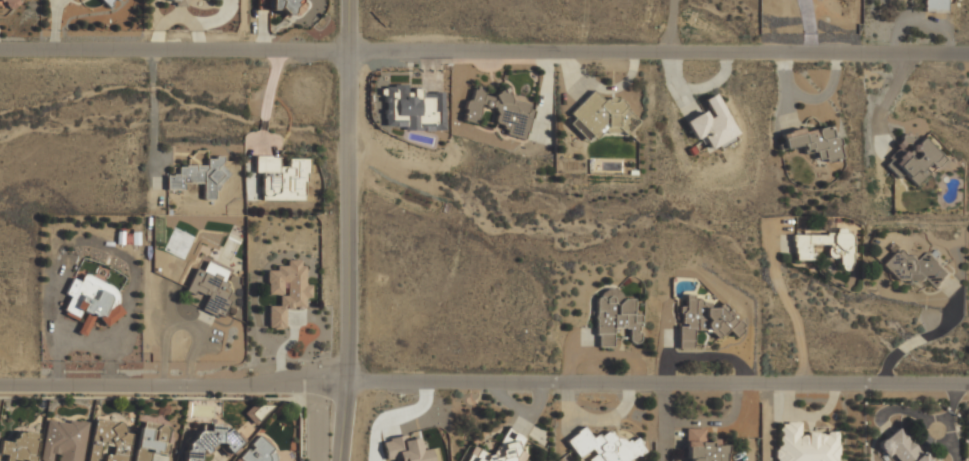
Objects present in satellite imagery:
building: (177, 1)
building: (11, 2)
building: (108, 2)
building: (283, 5)
building: (934, 5)
road: (484, 50)
building: (500, 111)
building: (601, 117)
building: (711, 123)
building: (813, 142)
building: (913, 159)
building: (199, 176)
building: (281, 178)
road: (347, 230)
building: (840, 251)
building: (916, 267)
building: (210, 288)
building: (286, 291)
building: (91, 301)
road: (784, 305)
building: (614, 317)
building: (706, 319)
road: (920, 338)
road: (484, 380)
building: (259, 411)
building: (108, 439)
building: (63, 440)
building: (207, 440)
building: (805, 444)
building: (603, 446)
building: (901, 446)
building: (18, 447)
building: (703, 447)
building: (500, 448)
building: (405, 449)
building: (257, 451)

